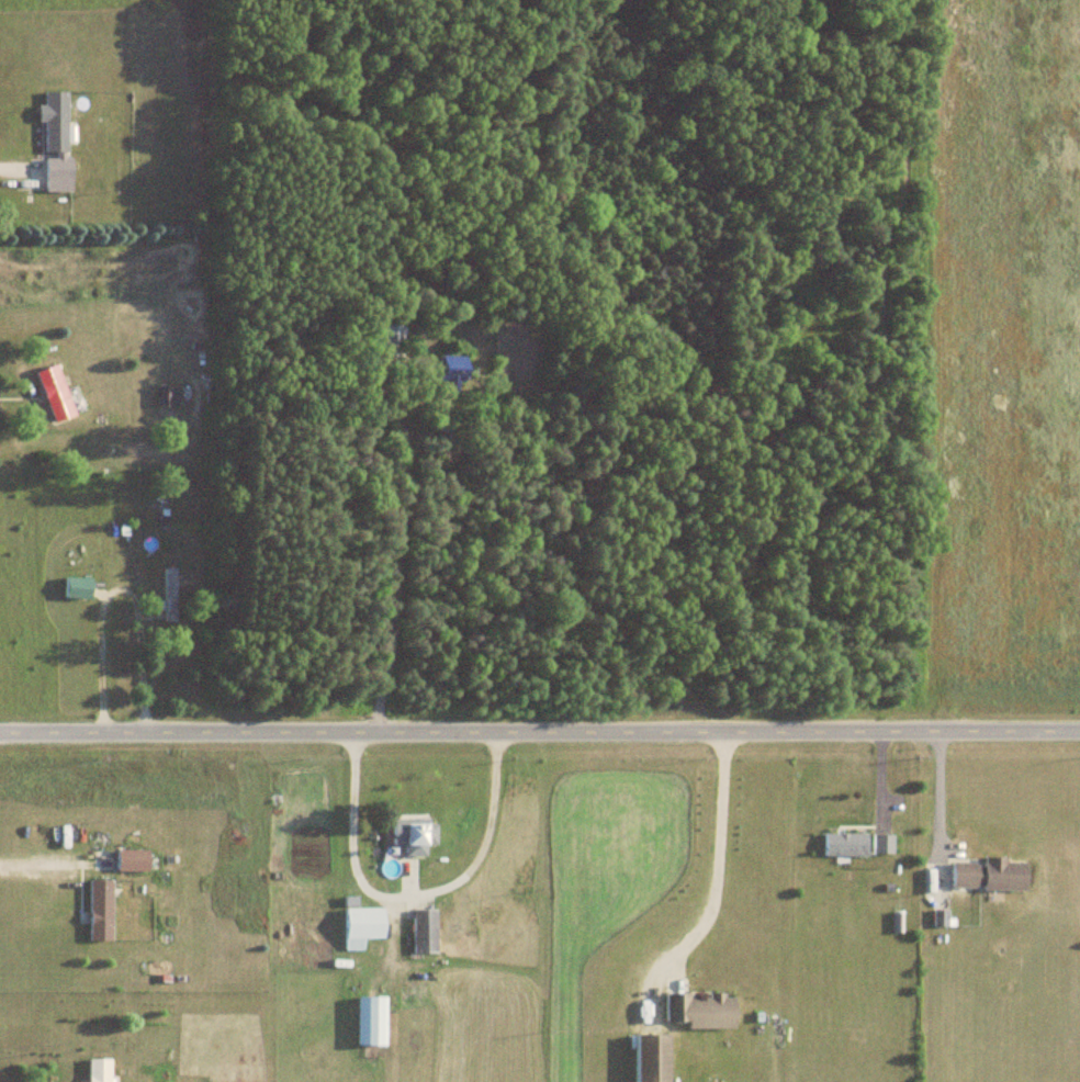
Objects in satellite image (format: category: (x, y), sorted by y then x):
building: (55, 142)
road: (16, 170)
building: (383, 341)
building: (451, 380)
building: (54, 394)
building: (167, 397)
road: (391, 564)
road: (115, 593)
building: (168, 595)
road: (539, 733)
road: (933, 797)
building: (413, 835)
building: (843, 845)
building: (880, 845)
road: (715, 854)
road: (40, 867)
building: (987, 876)
road: (409, 901)
building: (99, 910)
building: (362, 923)
building: (423, 931)
building: (699, 1011)
building: (369, 1021)
building: (651, 1058)
building: (98, 1071)

